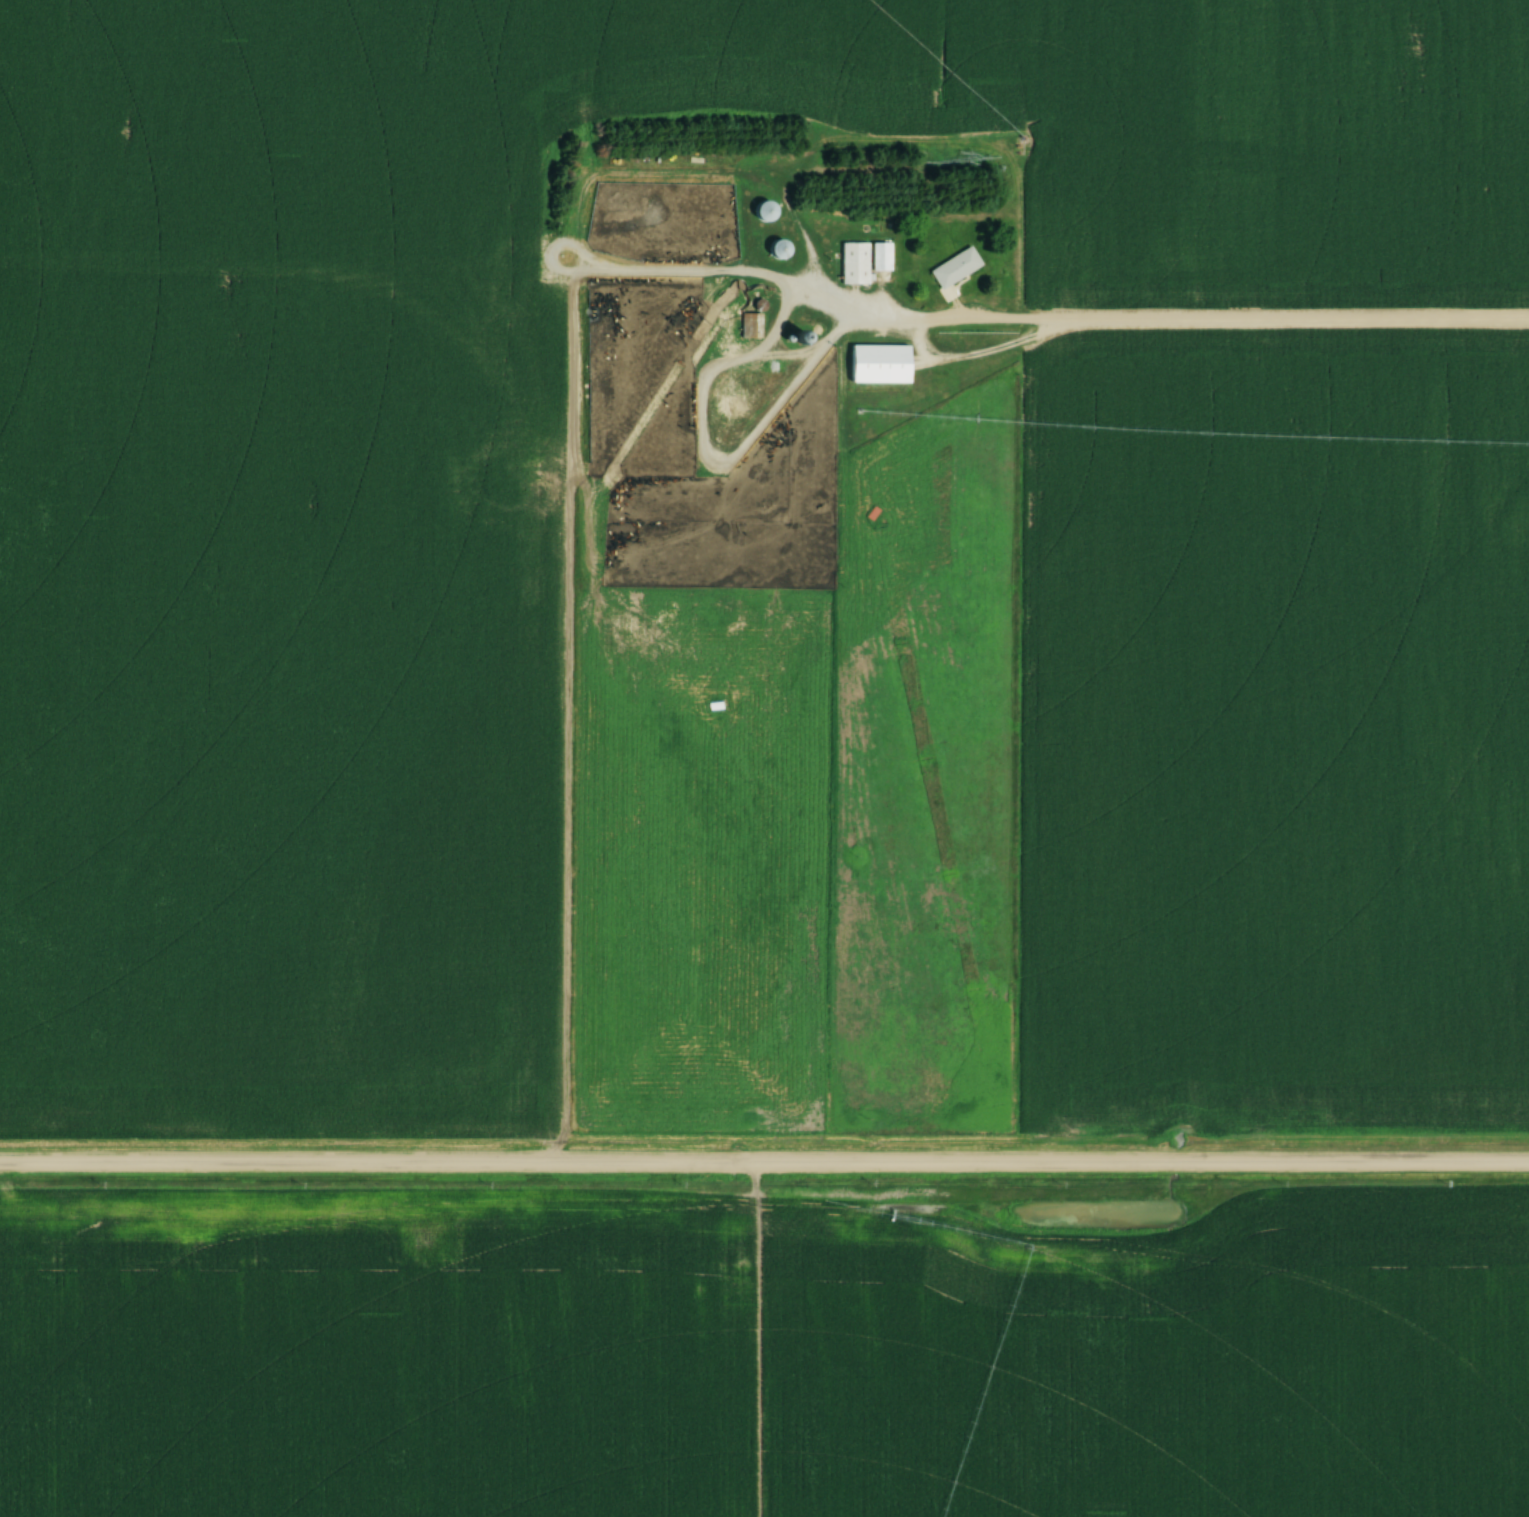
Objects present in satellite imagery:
building: (767, 212)
building: (781, 250)
building: (883, 257)
building: (855, 264)
building: (957, 268)
road: (1166, 318)
building: (753, 326)
building: (882, 364)
road: (764, 1160)

